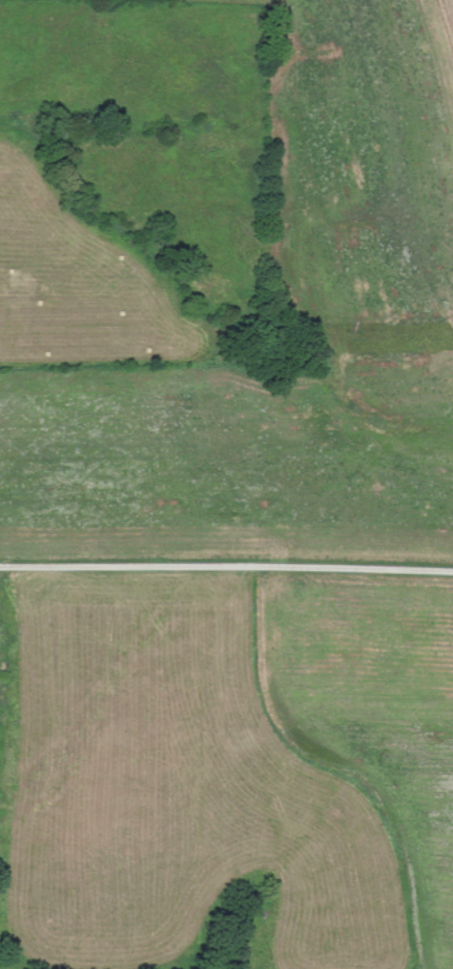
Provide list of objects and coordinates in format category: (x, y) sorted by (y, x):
road: (226, 571)

